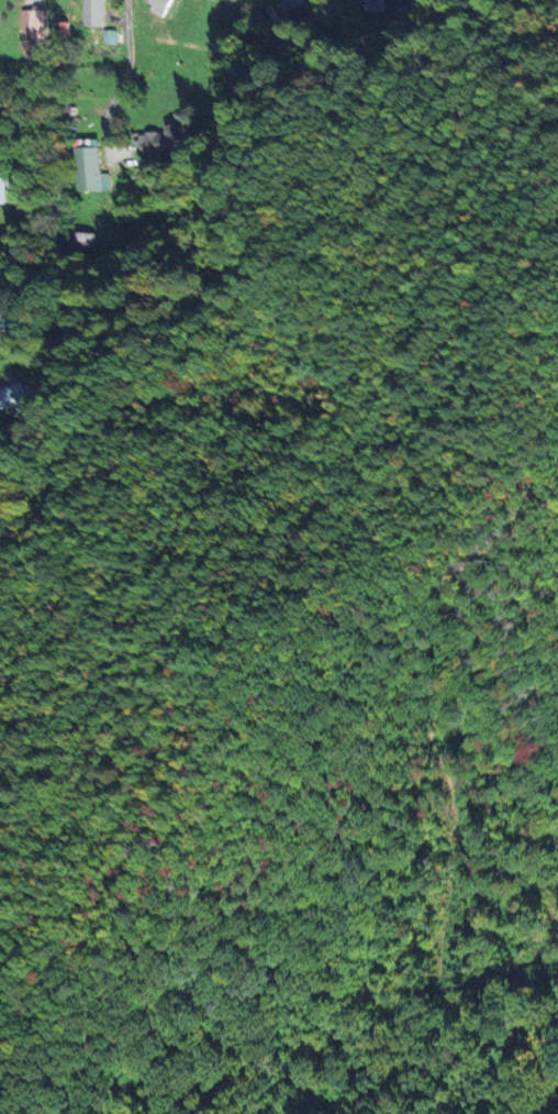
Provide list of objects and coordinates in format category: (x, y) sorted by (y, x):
building: (306, 0)
building: (378, 3)
building: (155, 5)
building: (289, 8)
building: (90, 13)
building: (62, 30)
building: (32, 34)
road: (126, 53)
building: (158, 145)
building: (87, 170)
building: (1, 189)
building: (0, 311)
building: (8, 395)

